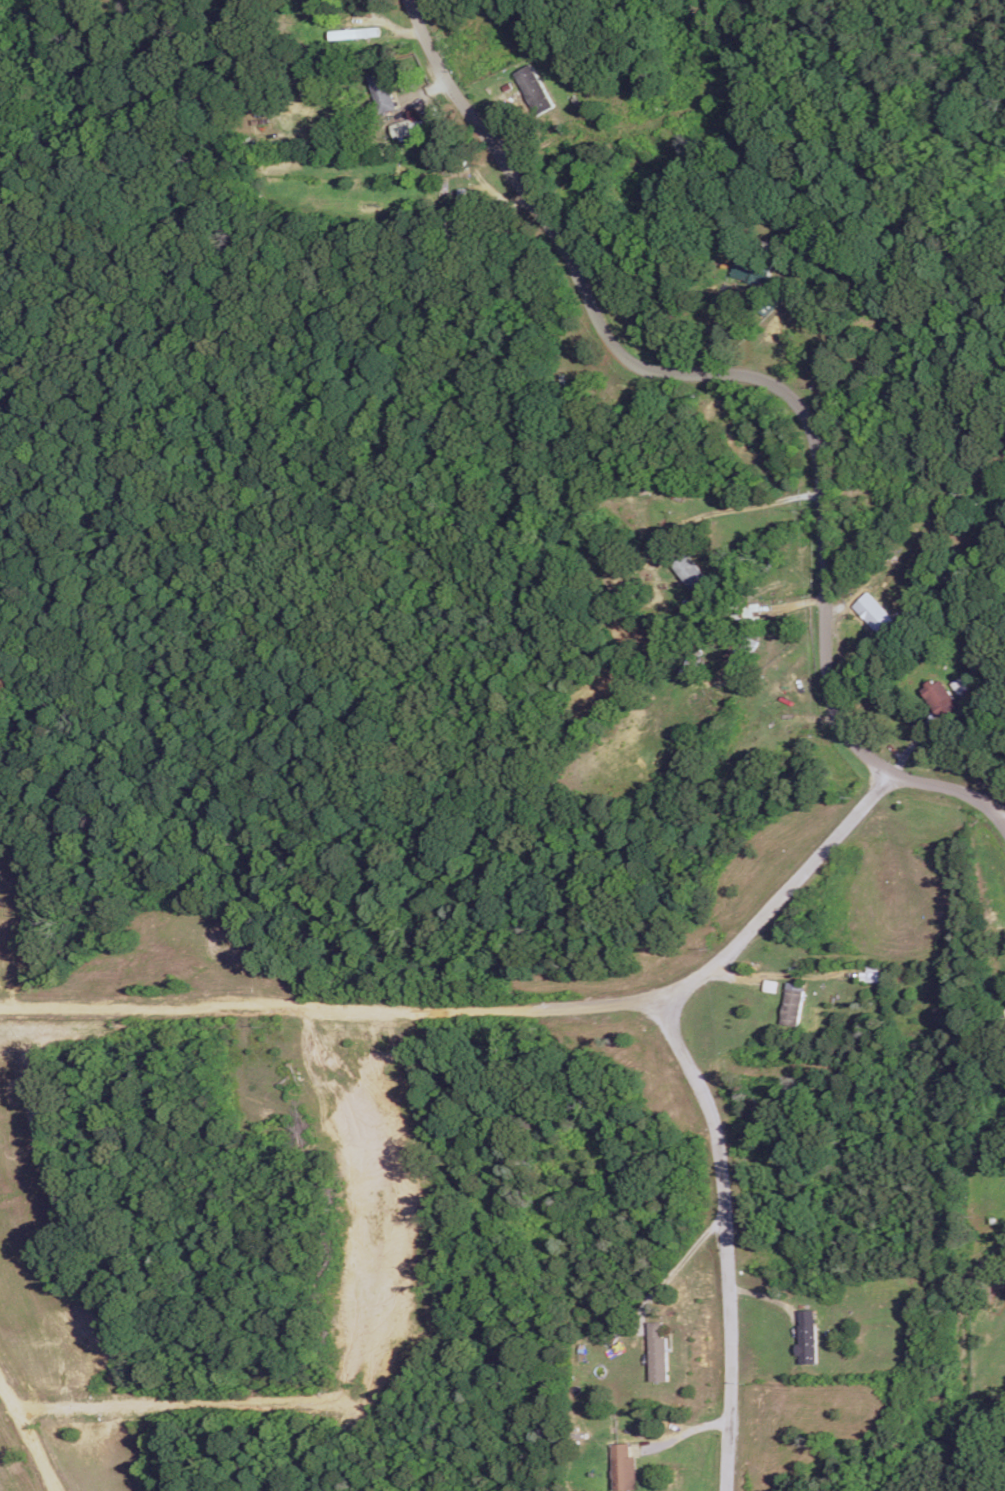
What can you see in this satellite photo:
building: (354, 32)
building: (532, 86)
building: (381, 91)
building: (402, 127)
building: (461, 201)
building: (750, 272)
road: (768, 384)
road: (742, 506)
building: (689, 570)
building: (873, 612)
building: (741, 653)
building: (940, 696)
building: (869, 974)
building: (792, 1003)
road: (492, 1008)
road: (723, 1237)
road: (673, 1270)
building: (807, 1335)
building: (657, 1350)
road: (28, 1437)
building: (623, 1467)

